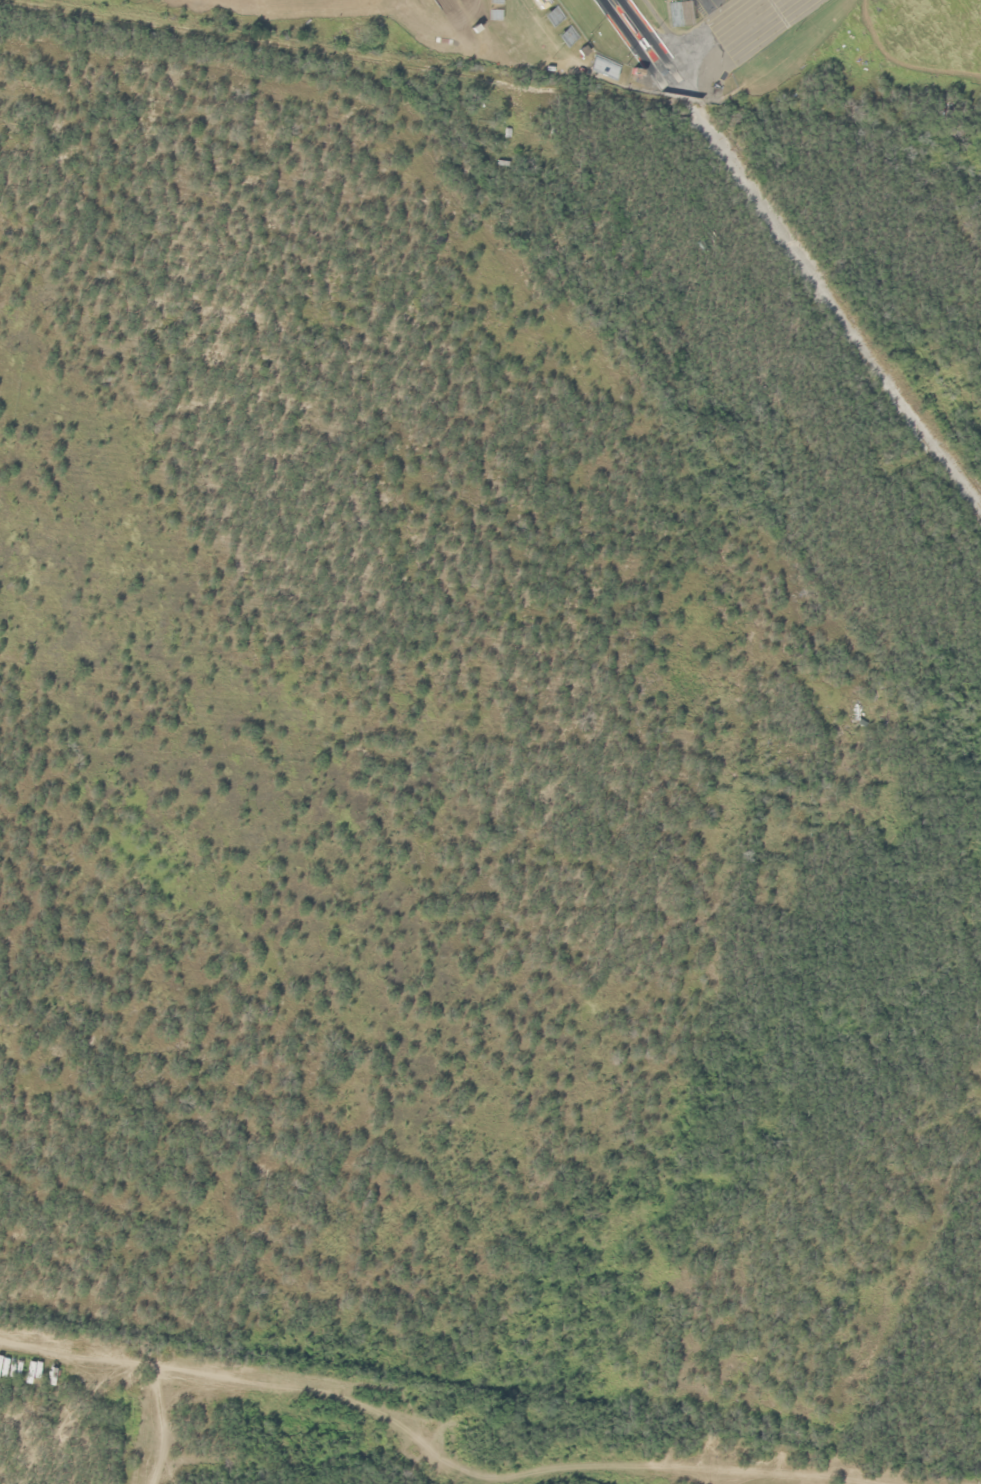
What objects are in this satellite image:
raceway: (626, 32)
parking lot: (714, 32)
road: (669, 78)

